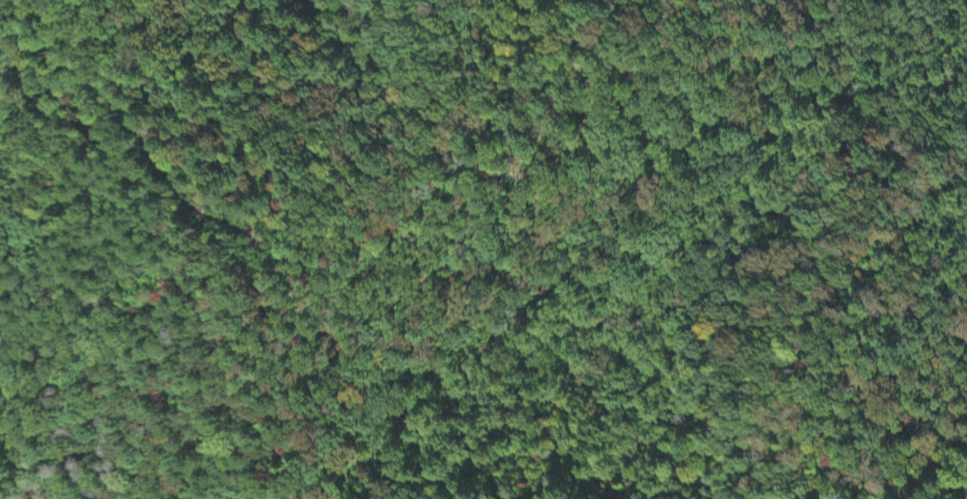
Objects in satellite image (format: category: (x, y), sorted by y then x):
road: (26, 460)

